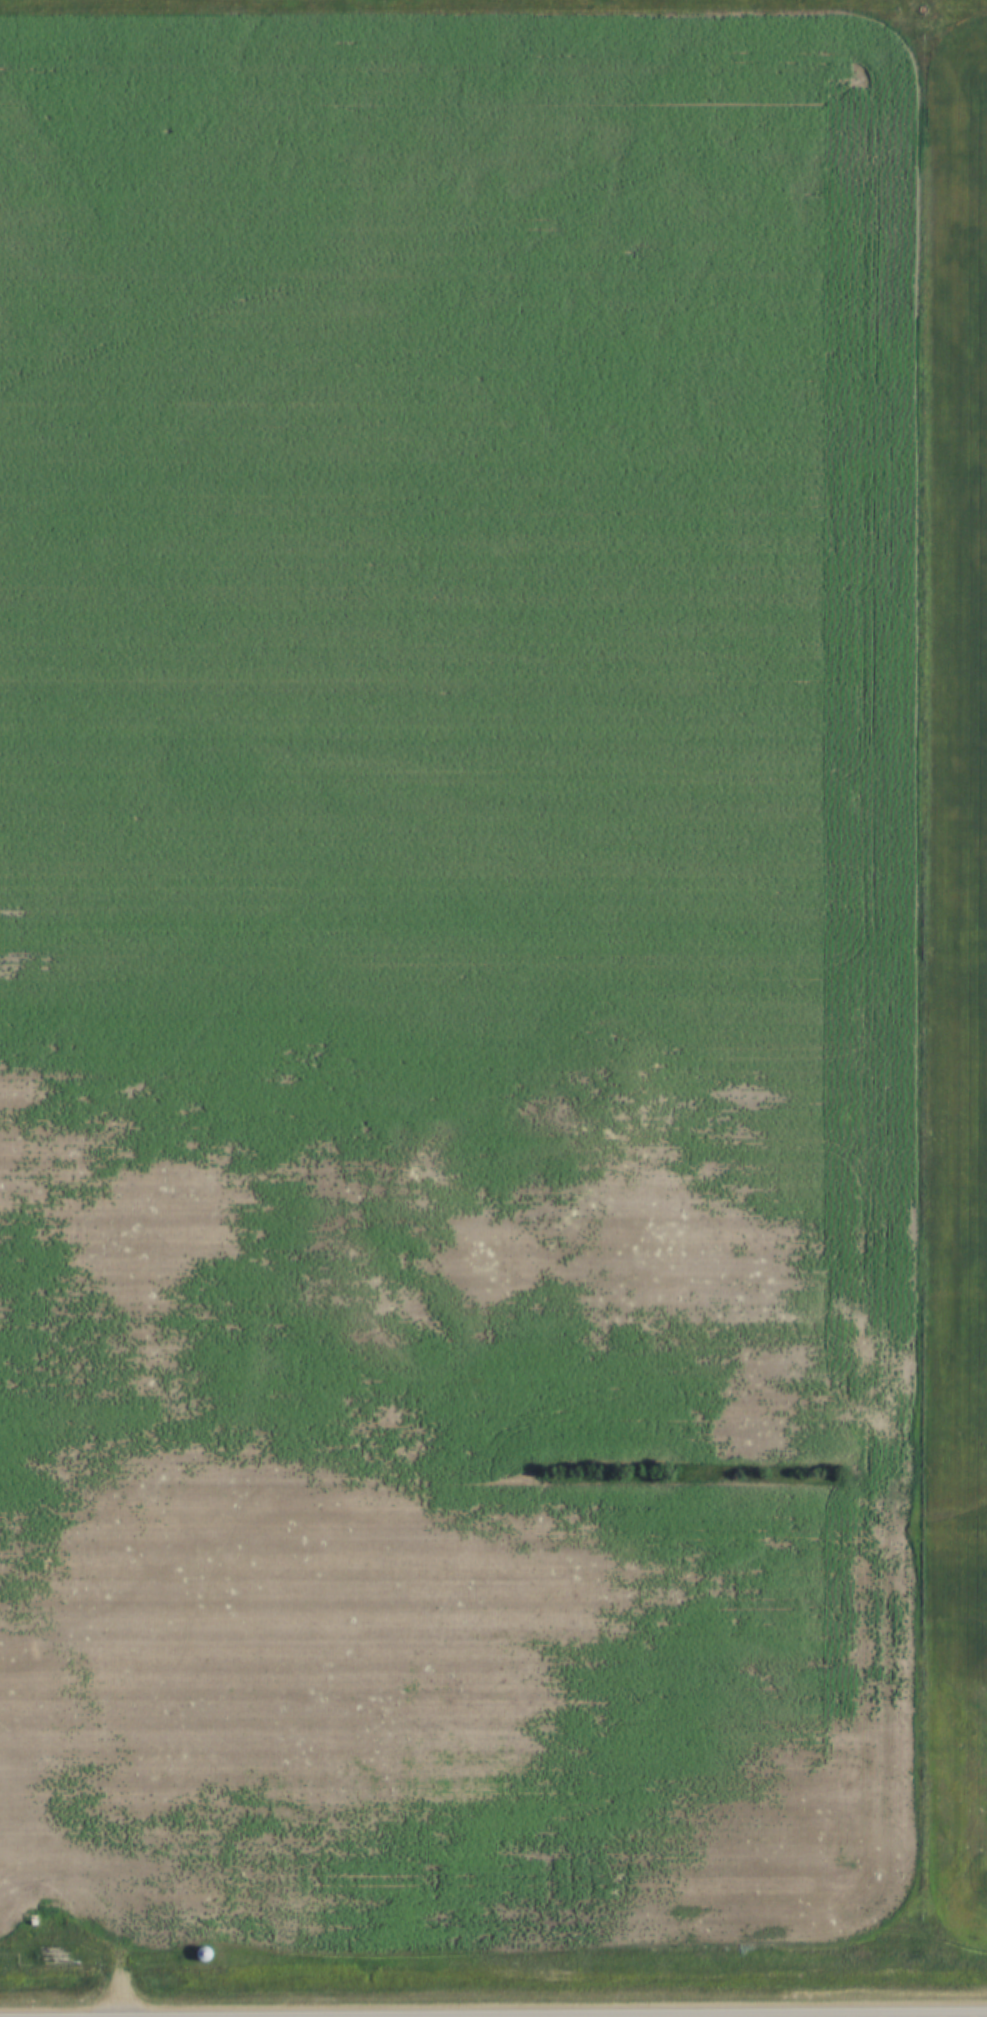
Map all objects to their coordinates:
building: (203, 1953)

